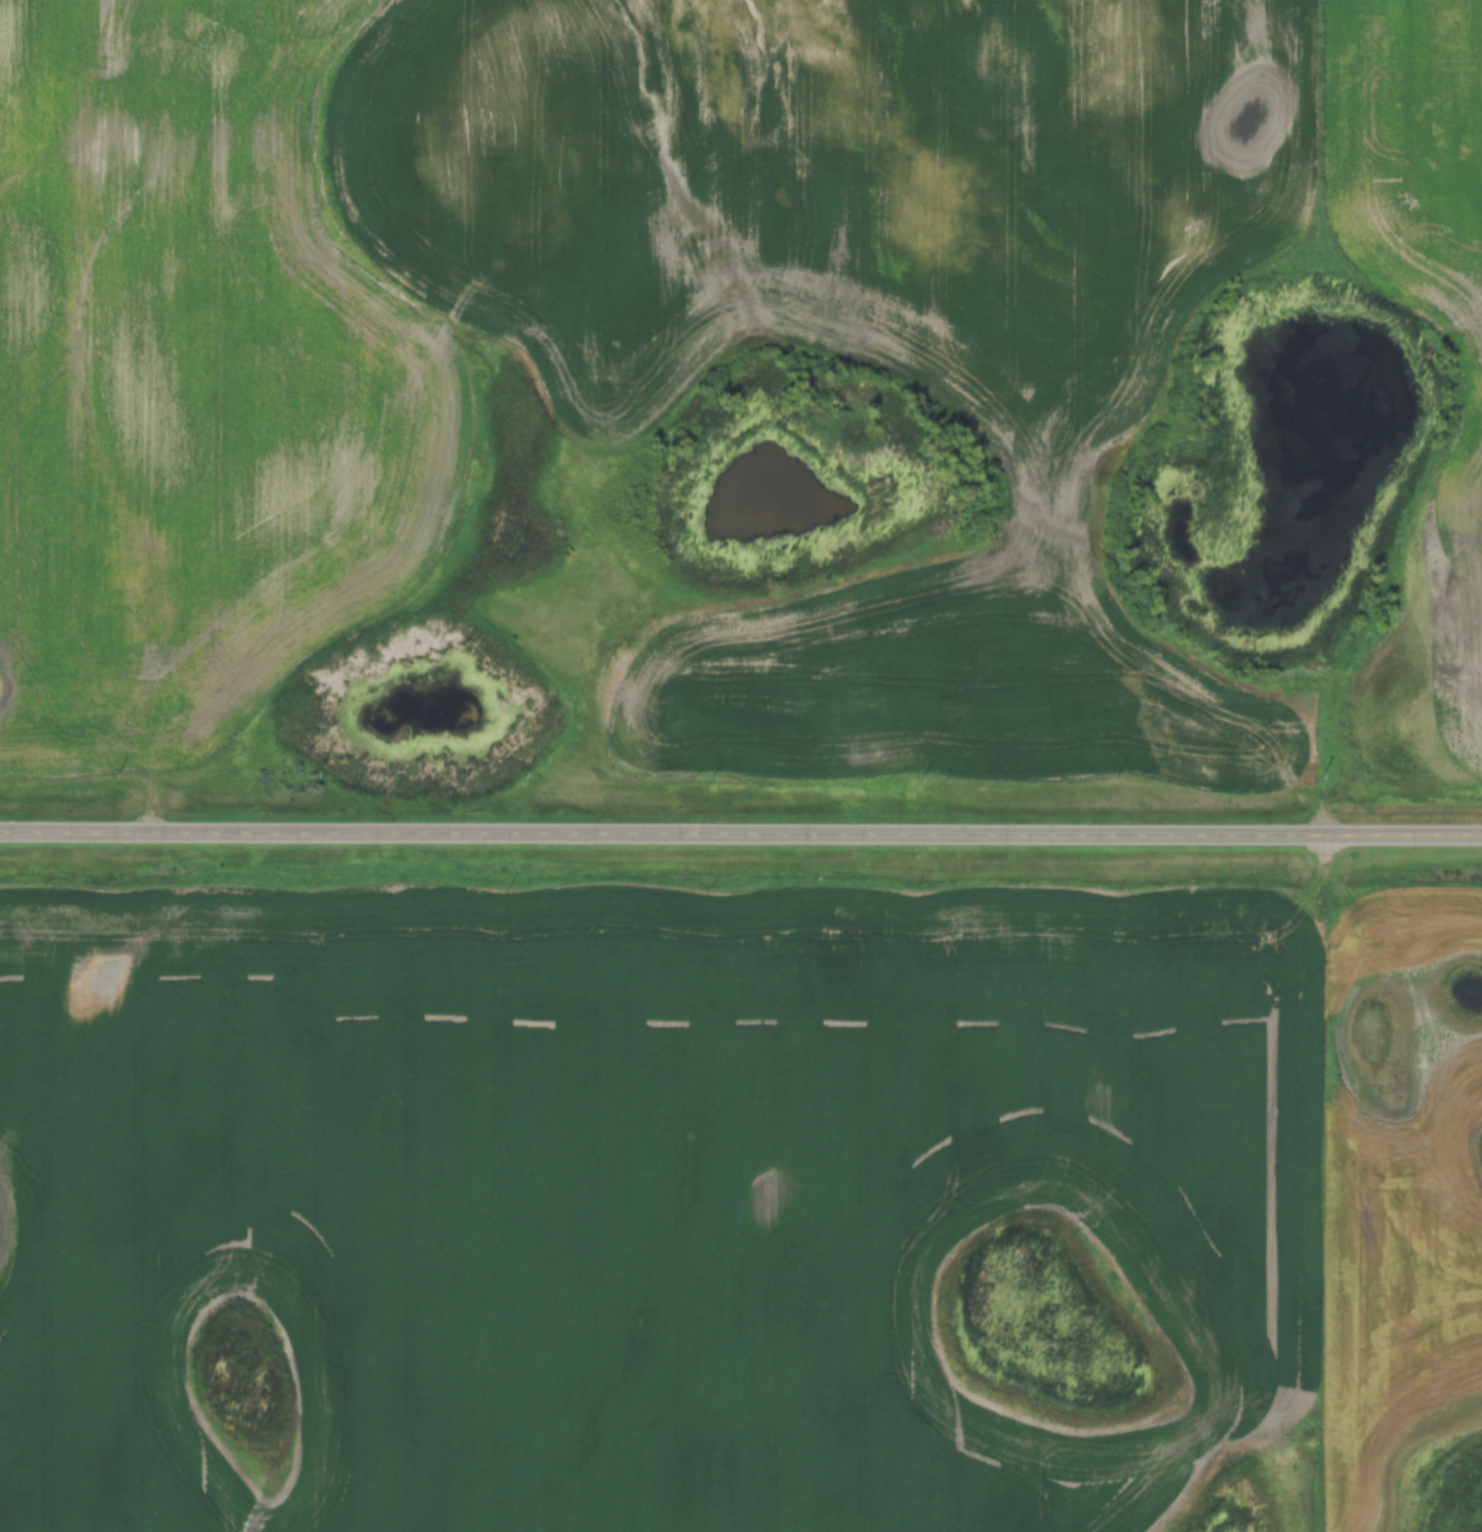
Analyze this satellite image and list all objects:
road: (741, 832)

